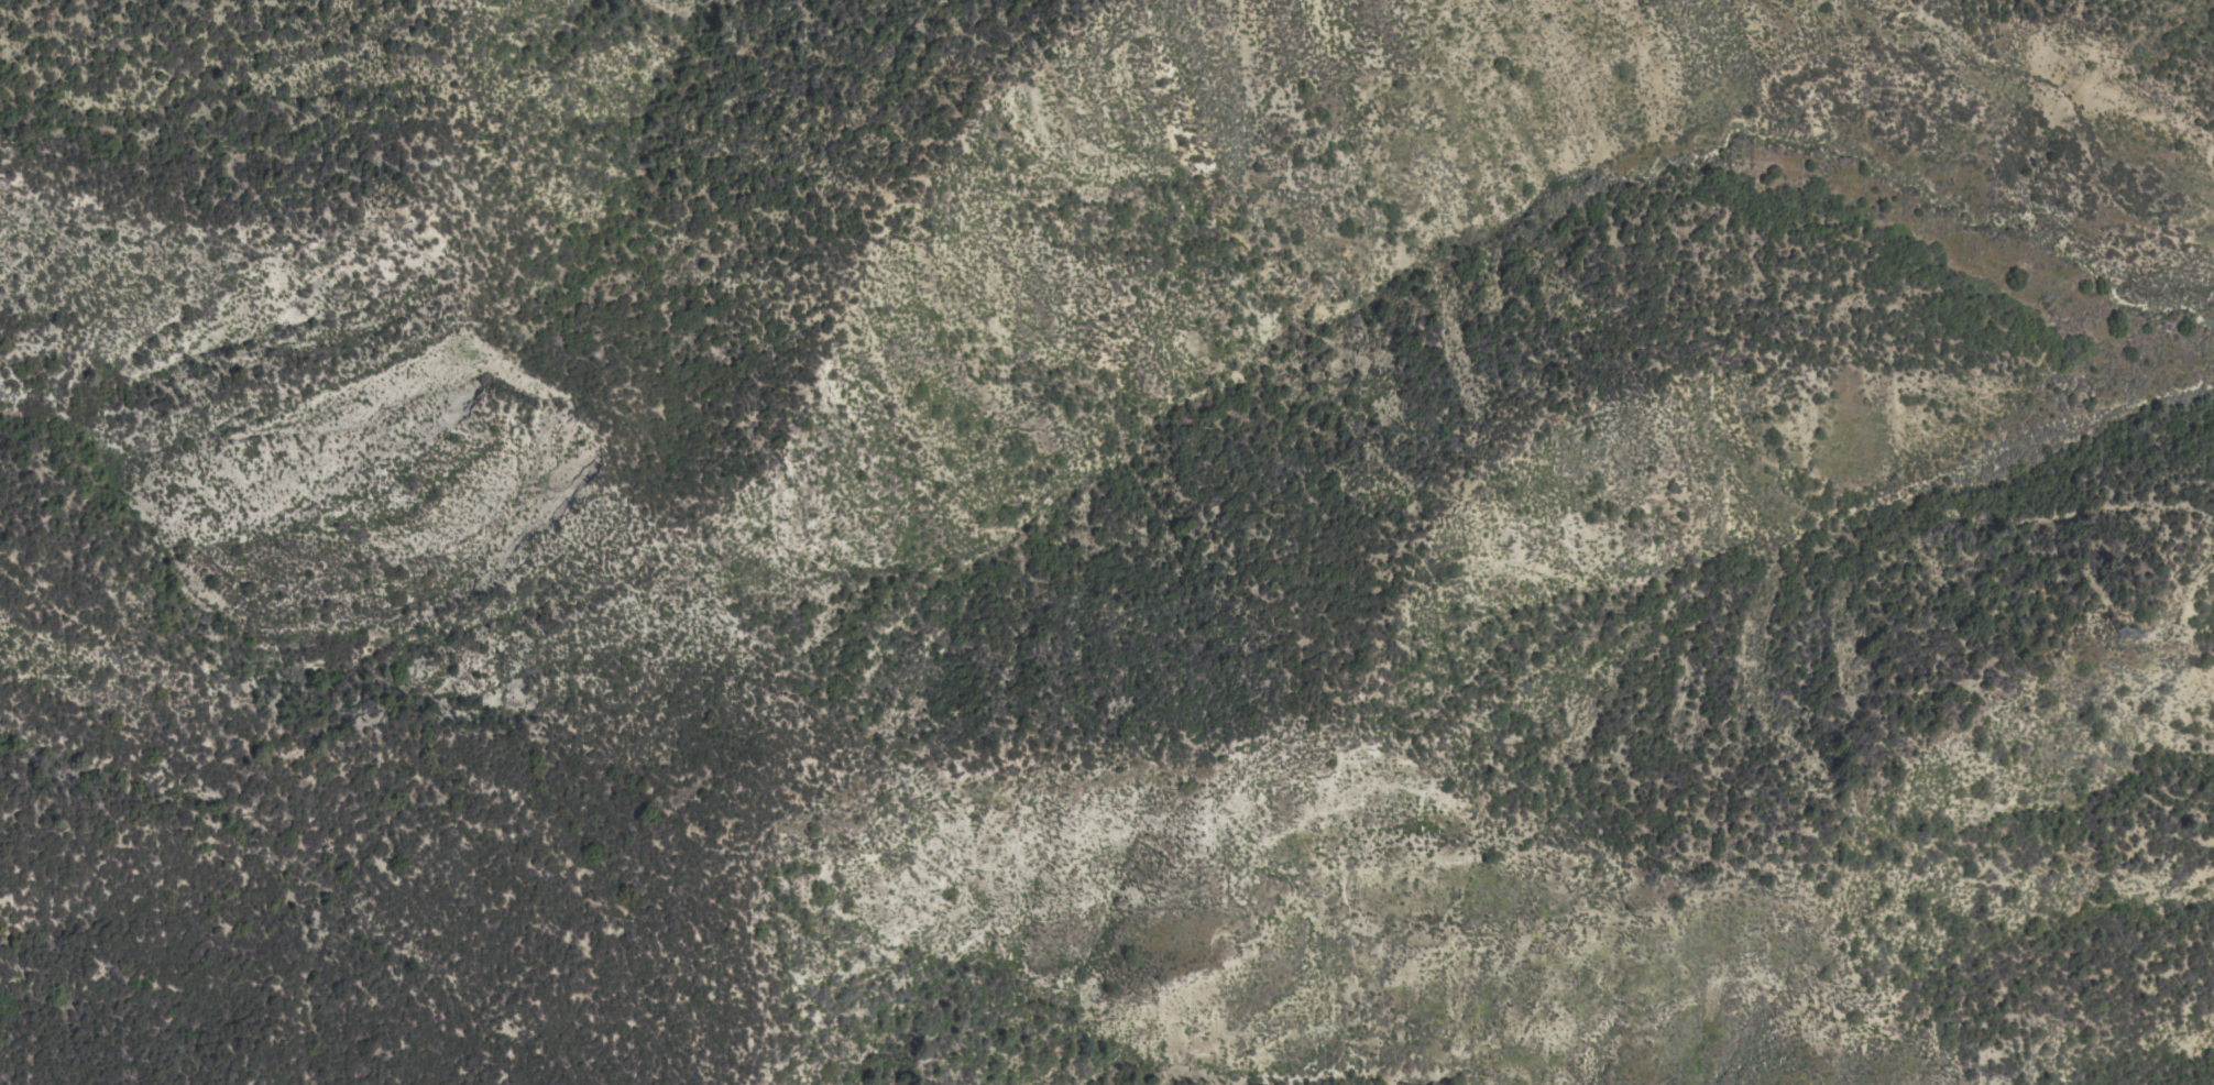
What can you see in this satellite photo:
power tower: (2124, 636)

